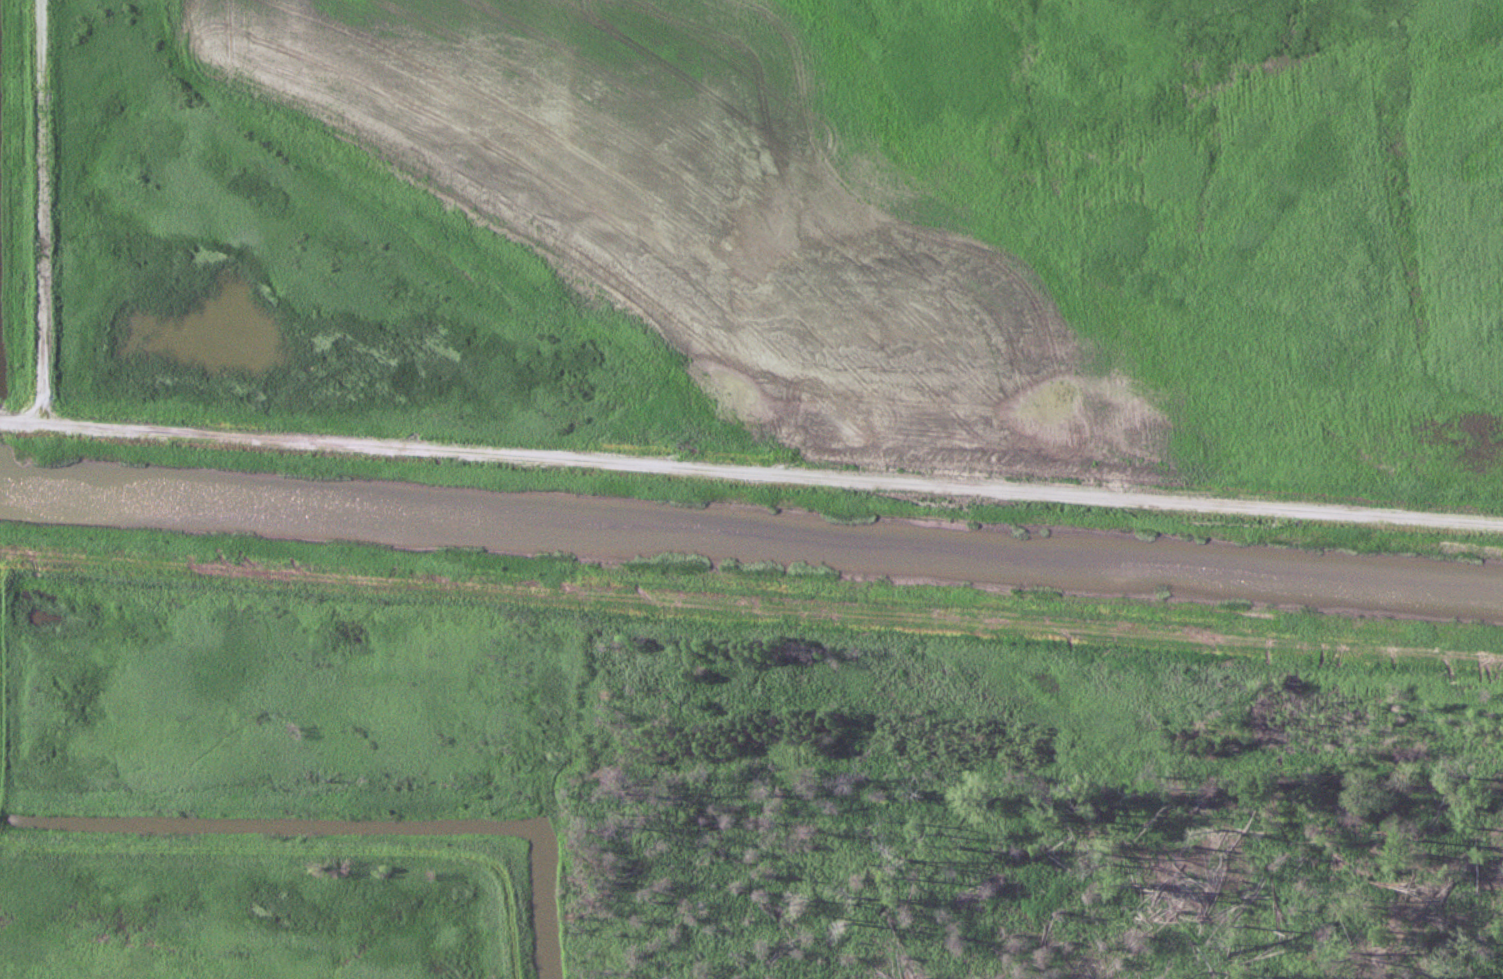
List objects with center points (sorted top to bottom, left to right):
road: (43, 212)
road: (751, 472)

